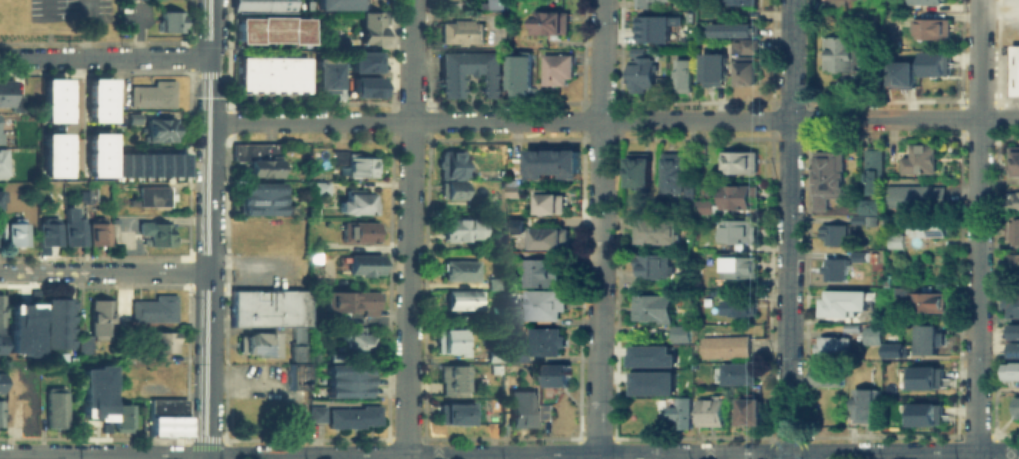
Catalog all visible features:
building: (741, 1)
building: (927, 1)
building: (654, 2)
road: (1000, 3)
building: (339, 4)
building: (498, 4)
building: (259, 5)
building: (299, 5)
building: (467, 5)
road: (46, 7)
building: (167, 21)
building: (550, 22)
building: (650, 25)
building: (368, 26)
road: (85, 28)
building: (934, 28)
building: (271, 29)
building: (734, 29)
building: (461, 32)
building: (337, 42)
building: (849, 55)
building: (1015, 56)
road: (104, 57)
building: (364, 61)
building: (745, 62)
building: (933, 63)
building: (556, 67)
building: (714, 68)
building: (324, 72)
building: (469, 72)
building: (519, 72)
building: (640, 73)
building: (252, 74)
building: (684, 74)
building: (902, 74)
building: (241, 75)
building: (264, 75)
building: (275, 75)
building: (286, 75)
building: (298, 75)
building: (1015, 81)
building: (362, 85)
building: (4, 91)
building: (152, 94)
building: (51, 98)
building: (98, 99)
road: (76, 110)
building: (130, 113)
road: (614, 119)
building: (158, 129)
building: (698, 151)
building: (51, 153)
building: (97, 153)
building: (255, 156)
building: (338, 156)
building: (1013, 158)
building: (919, 159)
building: (2, 161)
building: (739, 161)
building: (149, 163)
building: (356, 164)
building: (450, 164)
building: (552, 164)
building: (872, 167)
building: (636, 169)
building: (671, 174)
building: (827, 176)
building: (319, 186)
building: (449, 189)
building: (512, 191)
building: (687, 191)
building: (88, 193)
building: (152, 195)
building: (914, 195)
building: (258, 197)
building: (731, 200)
building: (1014, 200)
building: (357, 202)
building: (547, 202)
building: (867, 206)
building: (68, 211)
building: (855, 221)
building: (870, 221)
building: (512, 222)
road: (977, 226)
building: (925, 227)
road: (208, 229)
road: (410, 229)
building: (460, 229)
road: (599, 229)
road: (789, 229)
building: (1012, 230)
building: (72, 231)
building: (654, 231)
building: (737, 231)
building: (15, 232)
building: (47, 232)
building: (359, 232)
building: (98, 233)
building: (159, 233)
building: (833, 234)
building: (546, 237)
building: (894, 241)
building: (857, 257)
building: (1014, 259)
road: (247, 262)
building: (361, 264)
building: (654, 265)
building: (739, 266)
building: (834, 269)
building: (457, 270)
road: (103, 271)
building: (537, 271)
building: (898, 288)
building: (460, 298)
building: (352, 301)
building: (842, 302)
building: (924, 302)
building: (1012, 302)
building: (542, 304)
building: (268, 306)
building: (737, 307)
building: (650, 308)
building: (1, 309)
building: (158, 309)
building: (494, 314)
building: (99, 318)
building: (56, 323)
building: (22, 327)
building: (1016, 330)
building: (297, 333)
building: (679, 333)
building: (871, 335)
building: (927, 340)
building: (357, 341)
building: (542, 341)
building: (160, 342)
building: (256, 342)
building: (454, 342)
building: (1, 343)
building: (82, 344)
building: (724, 346)
building: (831, 346)
building: (1016, 348)
building: (295, 349)
building: (894, 349)
building: (515, 353)
building: (650, 355)
building: (490, 357)
building: (14, 370)
building: (1012, 371)
building: (738, 373)
building: (828, 374)
building: (297, 375)
building: (556, 375)
building: (924, 376)
building: (452, 379)
building: (347, 380)
building: (1, 381)
building: (651, 382)
road: (281, 389)
building: (93, 391)
building: (165, 405)
building: (865, 406)
building: (1016, 406)
building: (55, 407)
building: (0, 409)
building: (23, 409)
building: (521, 409)
building: (679, 410)
building: (709, 411)
building: (749, 412)
building: (924, 412)
building: (121, 415)
building: (352, 415)
building: (455, 415)
building: (166, 426)
road: (103, 455)
road: (612, 456)
road: (974, 456)
road: (89, 457)

